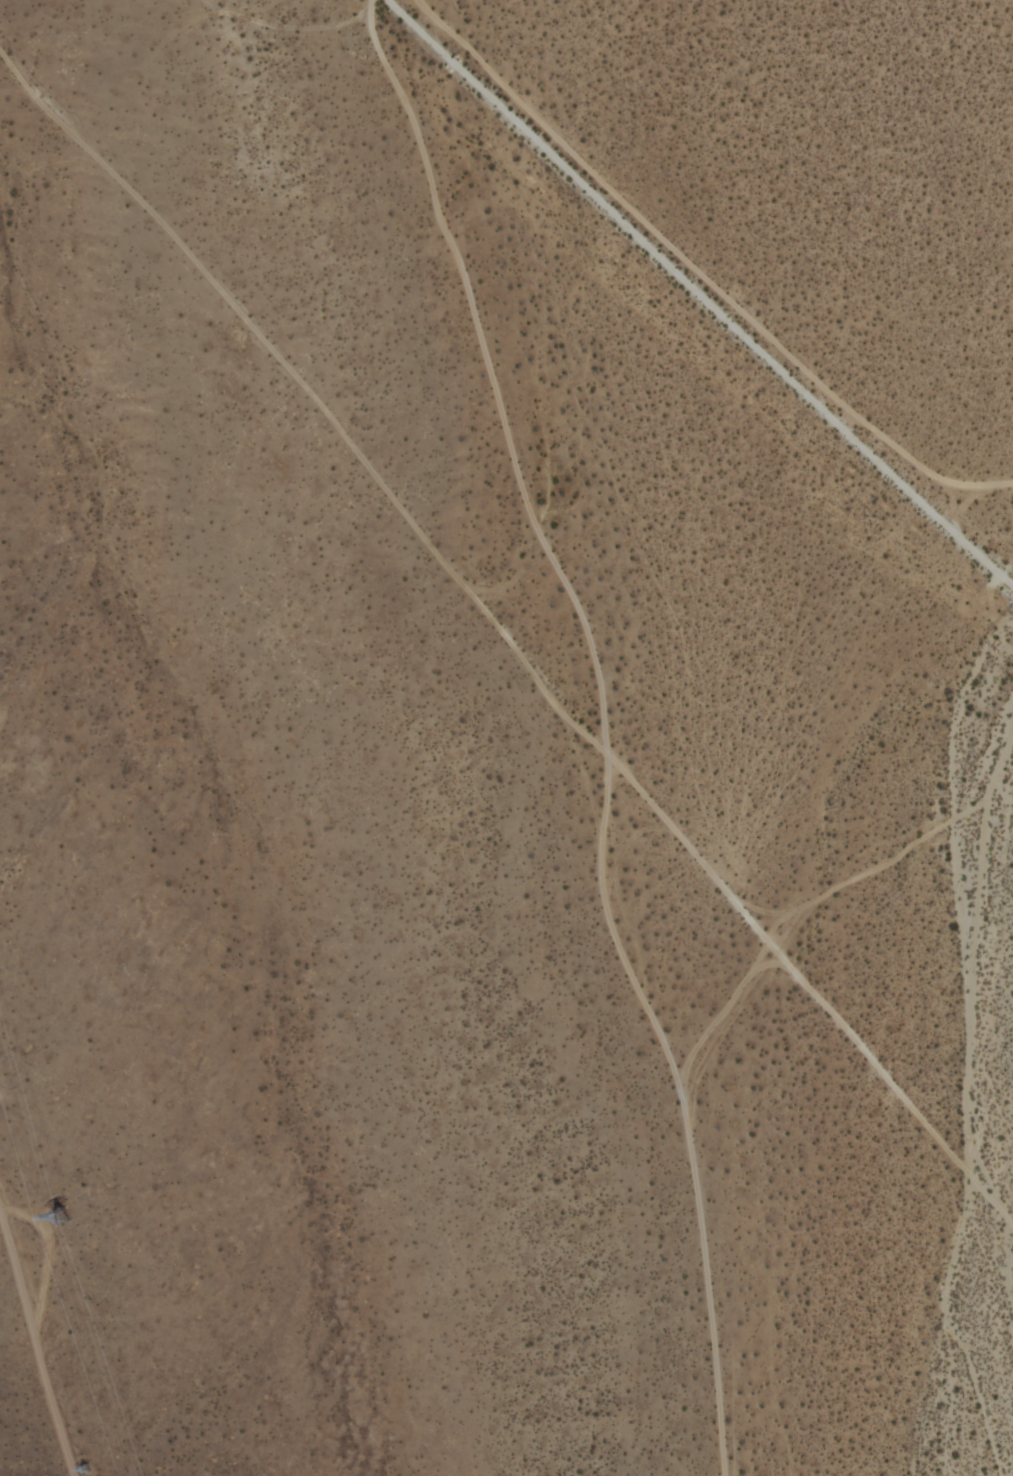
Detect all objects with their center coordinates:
power tower: (59, 1216)
power tower: (94, 1475)

